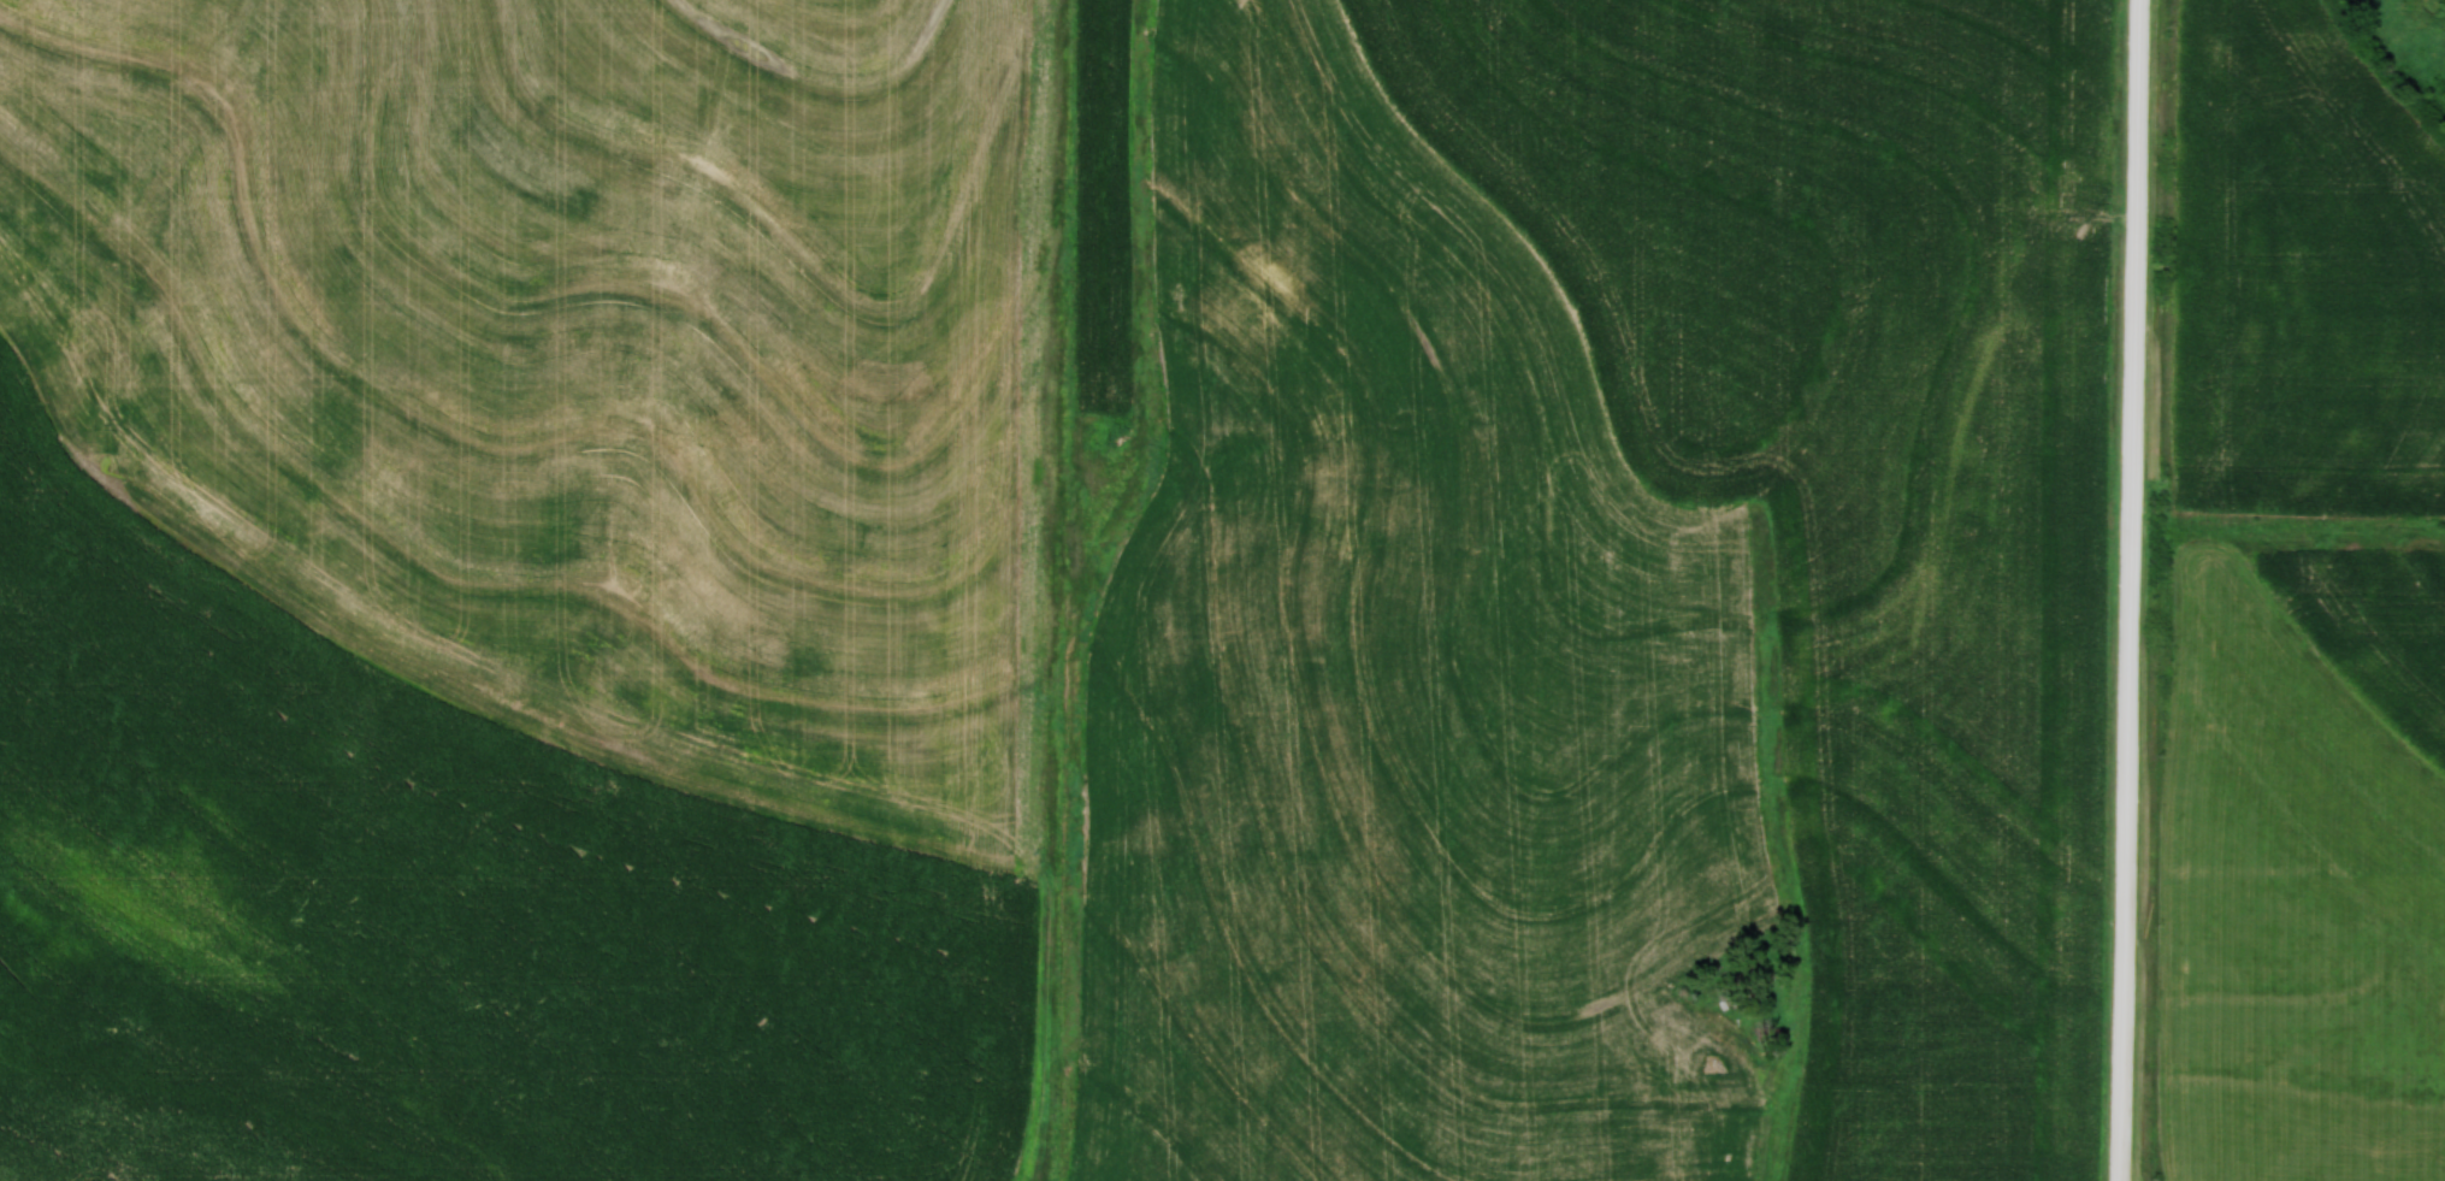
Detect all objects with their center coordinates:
road: (2132, 590)

